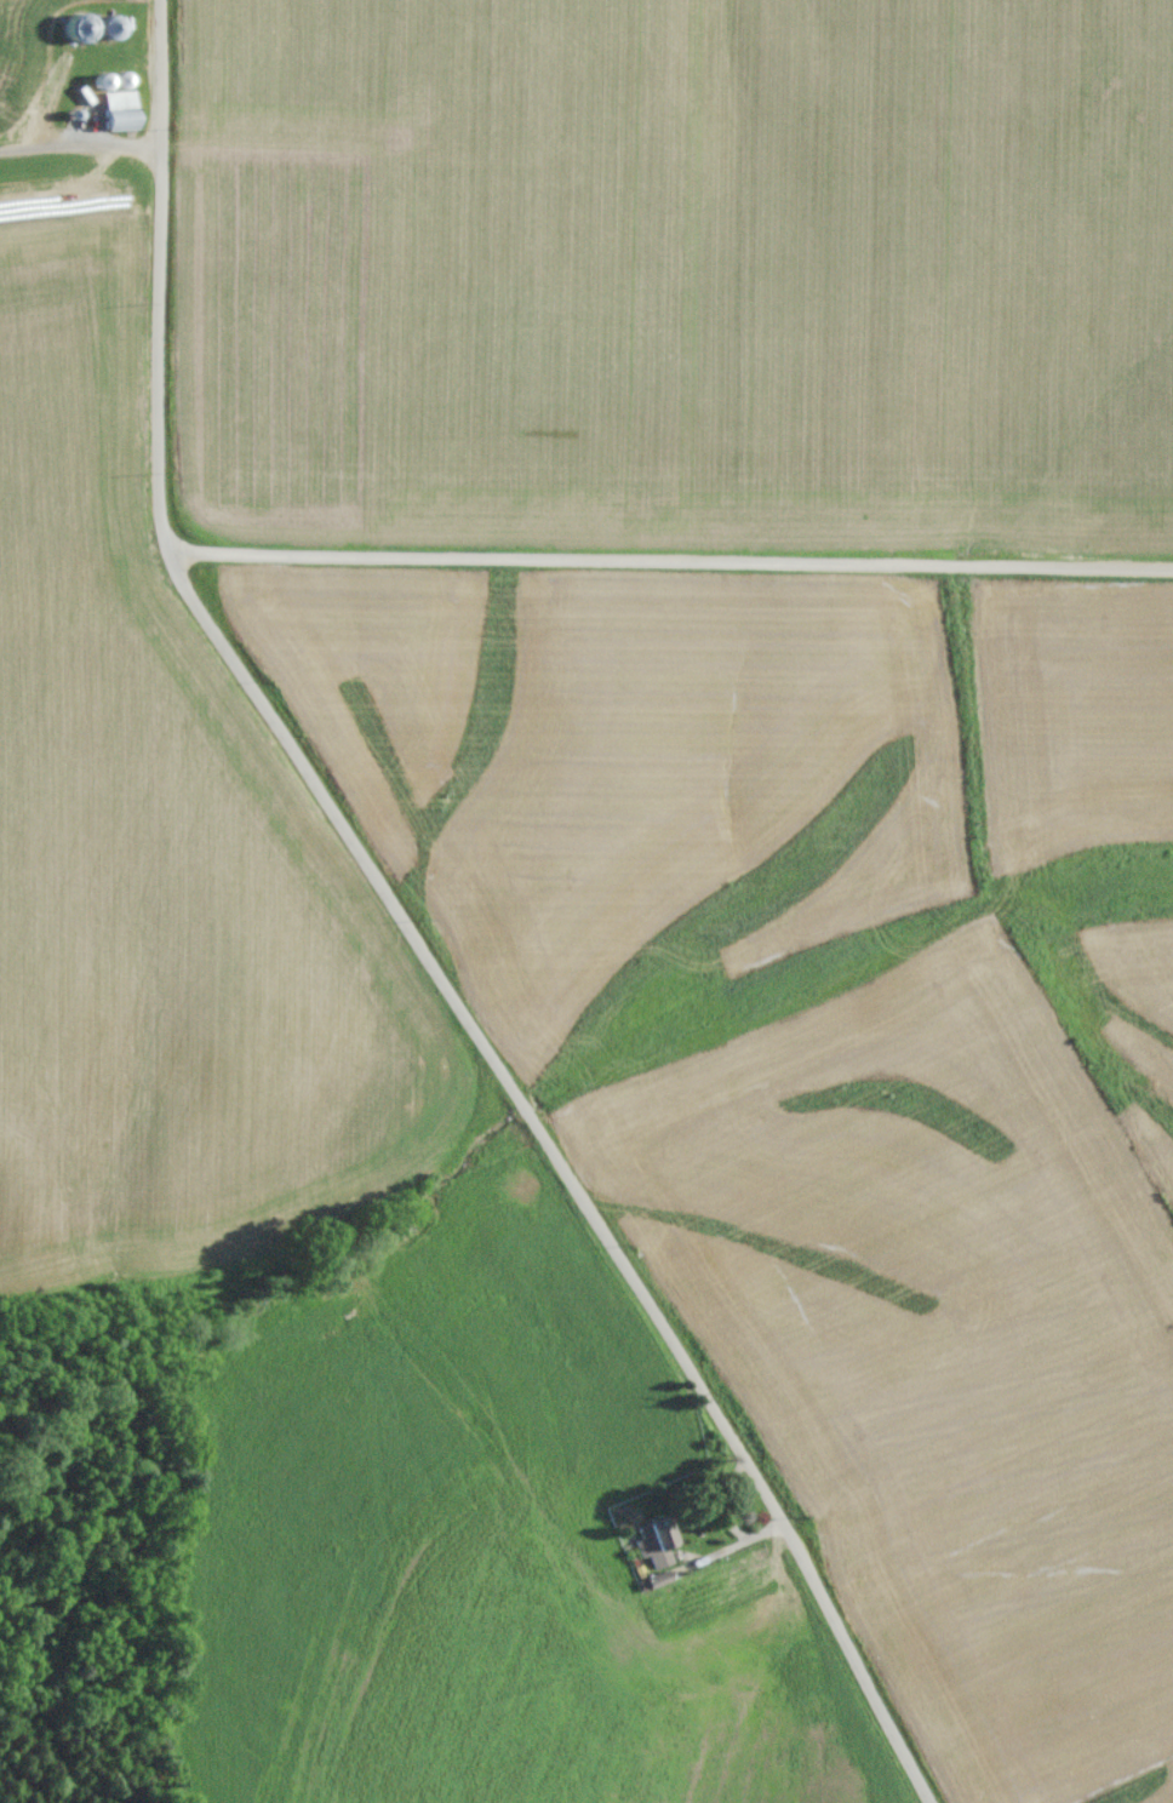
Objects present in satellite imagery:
building: (113, 27)
building: (79, 87)
building: (122, 109)
road: (700, 544)
road: (448, 940)

